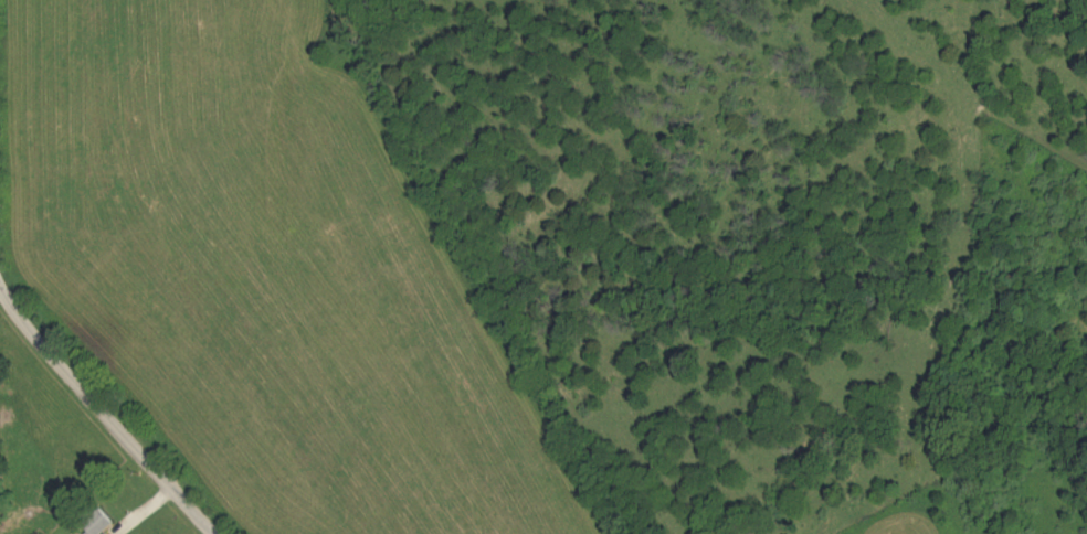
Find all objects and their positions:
road: (107, 412)
building: (104, 526)

